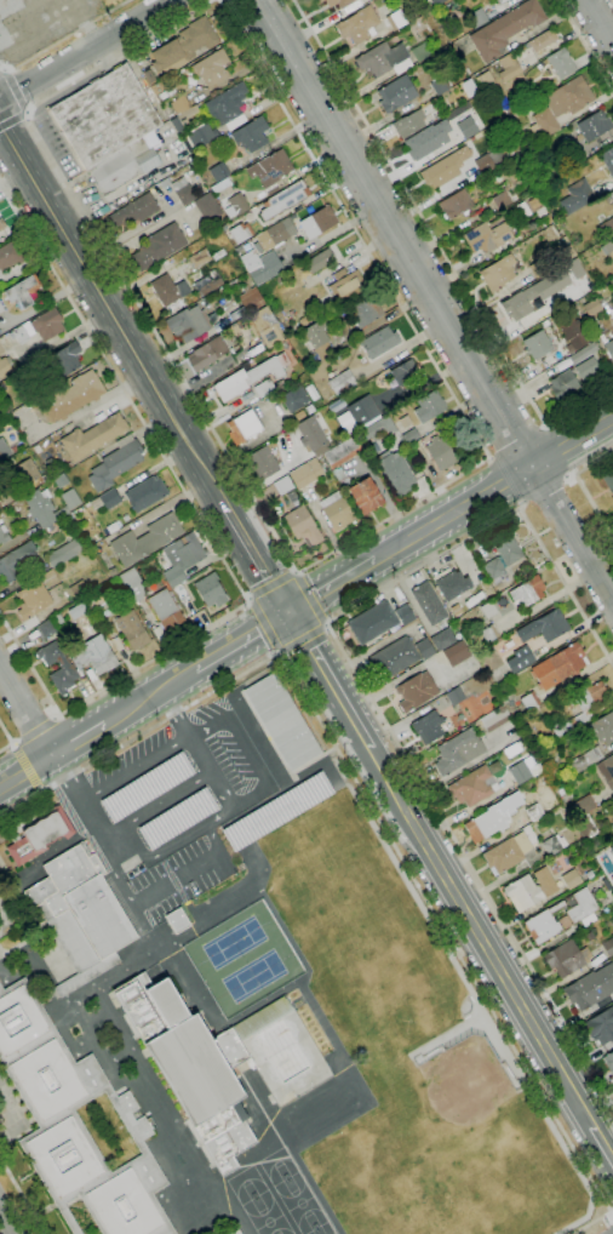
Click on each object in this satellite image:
road: (217, 0)
road: (218, 0)
building: (321, 0)
building: (497, 1)
building: (500, 1)
building: (340, 2)
building: (436, 2)
building: (477, 18)
building: (396, 19)
road: (600, 21)
building: (359, 25)
building: (506, 29)
road: (65, 38)
building: (543, 40)
building: (184, 45)
road: (585, 46)
road: (87, 52)
building: (420, 52)
building: (384, 59)
building: (561, 63)
building: (506, 67)
road: (2, 68)
building: (211, 68)
building: (486, 81)
building: (440, 85)
road: (15, 90)
building: (396, 93)
building: (227, 103)
building: (181, 104)
building: (561, 105)
road: (28, 113)
building: (104, 116)
building: (183, 119)
road: (11, 120)
building: (409, 124)
building: (594, 125)
building: (466, 127)
building: (509, 130)
building: (251, 135)
building: (202, 136)
building: (426, 139)
building: (577, 154)
building: (488, 160)
building: (607, 160)
building: (124, 166)
building: (270, 167)
building: (445, 168)
building: (218, 171)
building: (162, 184)
building: (183, 190)
building: (612, 190)
building: (612, 194)
building: (577, 196)
building: (285, 199)
building: (502, 200)
building: (533, 202)
building: (456, 204)
building: (236, 205)
building: (207, 207)
building: (134, 211)
building: (317, 222)
building: (607, 227)
building: (0, 228)
building: (276, 234)
building: (486, 236)
building: (612, 245)
building: (159, 246)
road: (439, 246)
building: (8, 256)
building: (199, 258)
building: (320, 261)
building: (260, 265)
building: (573, 268)
building: (537, 269)
building: (498, 274)
building: (208, 282)
building: (611, 282)
building: (346, 285)
building: (167, 290)
building: (23, 291)
building: (533, 295)
building: (251, 299)
road: (432, 301)
building: (591, 307)
building: (1, 308)
building: (365, 312)
road: (113, 316)
building: (189, 324)
building: (265, 326)
building: (39, 327)
building: (572, 331)
building: (315, 333)
building: (612, 335)
building: (379, 342)
building: (537, 344)
building: (609, 349)
building: (583, 353)
building: (206, 354)
building: (323, 354)
building: (65, 360)
building: (5, 366)
building: (586, 369)
building: (403, 372)
building: (247, 376)
building: (340, 382)
building: (562, 384)
road: (122, 387)
building: (267, 387)
building: (71, 396)
road: (113, 398)
building: (294, 399)
building: (429, 406)
building: (363, 411)
building: (405, 422)
road: (543, 425)
building: (244, 428)
building: (378, 429)
building: (311, 434)
building: (93, 436)
building: (409, 436)
road: (516, 442)
building: (4, 449)
building: (342, 452)
building: (439, 452)
road: (488, 457)
road: (485, 458)
building: (115, 463)
building: (262, 463)
building: (411, 464)
building: (27, 472)
building: (305, 474)
building: (338, 474)
building: (395, 474)
road: (568, 475)
building: (608, 478)
building: (61, 480)
building: (283, 485)
road: (493, 487)
road: (544, 487)
road: (580, 487)
building: (145, 493)
building: (6, 496)
building: (366, 496)
building: (109, 499)
road: (521, 503)
building: (48, 505)
building: (337, 512)
building: (303, 526)
building: (2, 535)
building: (145, 539)
building: (508, 548)
building: (65, 553)
building: (182, 558)
road: (254, 559)
building: (16, 561)
building: (495, 571)
building: (132, 584)
road: (270, 584)
road: (331, 584)
building: (451, 584)
building: (78, 589)
building: (210, 590)
building: (528, 592)
building: (97, 598)
road: (308, 598)
building: (33, 600)
building: (429, 602)
building: (165, 610)
building: (488, 610)
traffic signals: (287, 611)
building: (405, 615)
building: (373, 622)
road: (263, 624)
road: (326, 624)
building: (545, 627)
building: (47, 628)
building: (132, 630)
building: (489, 634)
road: (240, 638)
road: (302, 638)
building: (443, 639)
road: (309, 649)
building: (424, 649)
road: (277, 653)
building: (457, 653)
building: (394, 657)
building: (96, 658)
building: (520, 659)
building: (558, 665)
building: (64, 672)
road: (105, 685)
road: (363, 689)
building: (416, 691)
road: (149, 696)
building: (454, 696)
building: (529, 701)
building: (580, 707)
road: (24, 713)
road: (174, 713)
road: (56, 716)
building: (495, 719)
building: (283, 721)
building: (428, 727)
building: (600, 729)
road: (33, 731)
road: (8, 738)
road: (78, 739)
road: (12, 743)
road: (246, 750)
building: (458, 752)
building: (585, 759)
road: (25, 766)
road: (136, 769)
road: (25, 770)
building: (606, 771)
road: (211, 772)
building: (520, 772)
building: (472, 787)
building: (148, 788)
road: (39, 790)
building: (612, 796)
road: (157, 804)
road: (85, 805)
building: (584, 805)
building: (277, 811)
road: (373, 811)
building: (534, 811)
building: (178, 819)
building: (486, 824)
building: (585, 827)
building: (608, 832)
building: (36, 834)
road: (176, 845)
building: (554, 845)
road: (55, 849)
building: (612, 849)
building: (508, 852)
building: (572, 879)
building: (545, 881)
road: (167, 882)
building: (522, 892)
building: (81, 915)
building: (582, 918)
road: (472, 919)
building: (177, 921)
building: (563, 921)
building: (607, 947)
park: (244, 959)
building: (563, 959)
building: (590, 988)
building: (601, 1026)
building: (196, 1062)
building: (608, 1062)
park: (465, 1112)
building: (75, 1124)
park: (280, 1166)
flagpole: (28, 1173)
park: (472, 1184)
park: (247, 1186)
road: (19, 1199)
park: (302, 1204)
park: (267, 1215)
road: (612, 1215)
road: (612, 1216)
road: (6, 1223)
park: (323, 1230)
building: (235, 1233)

